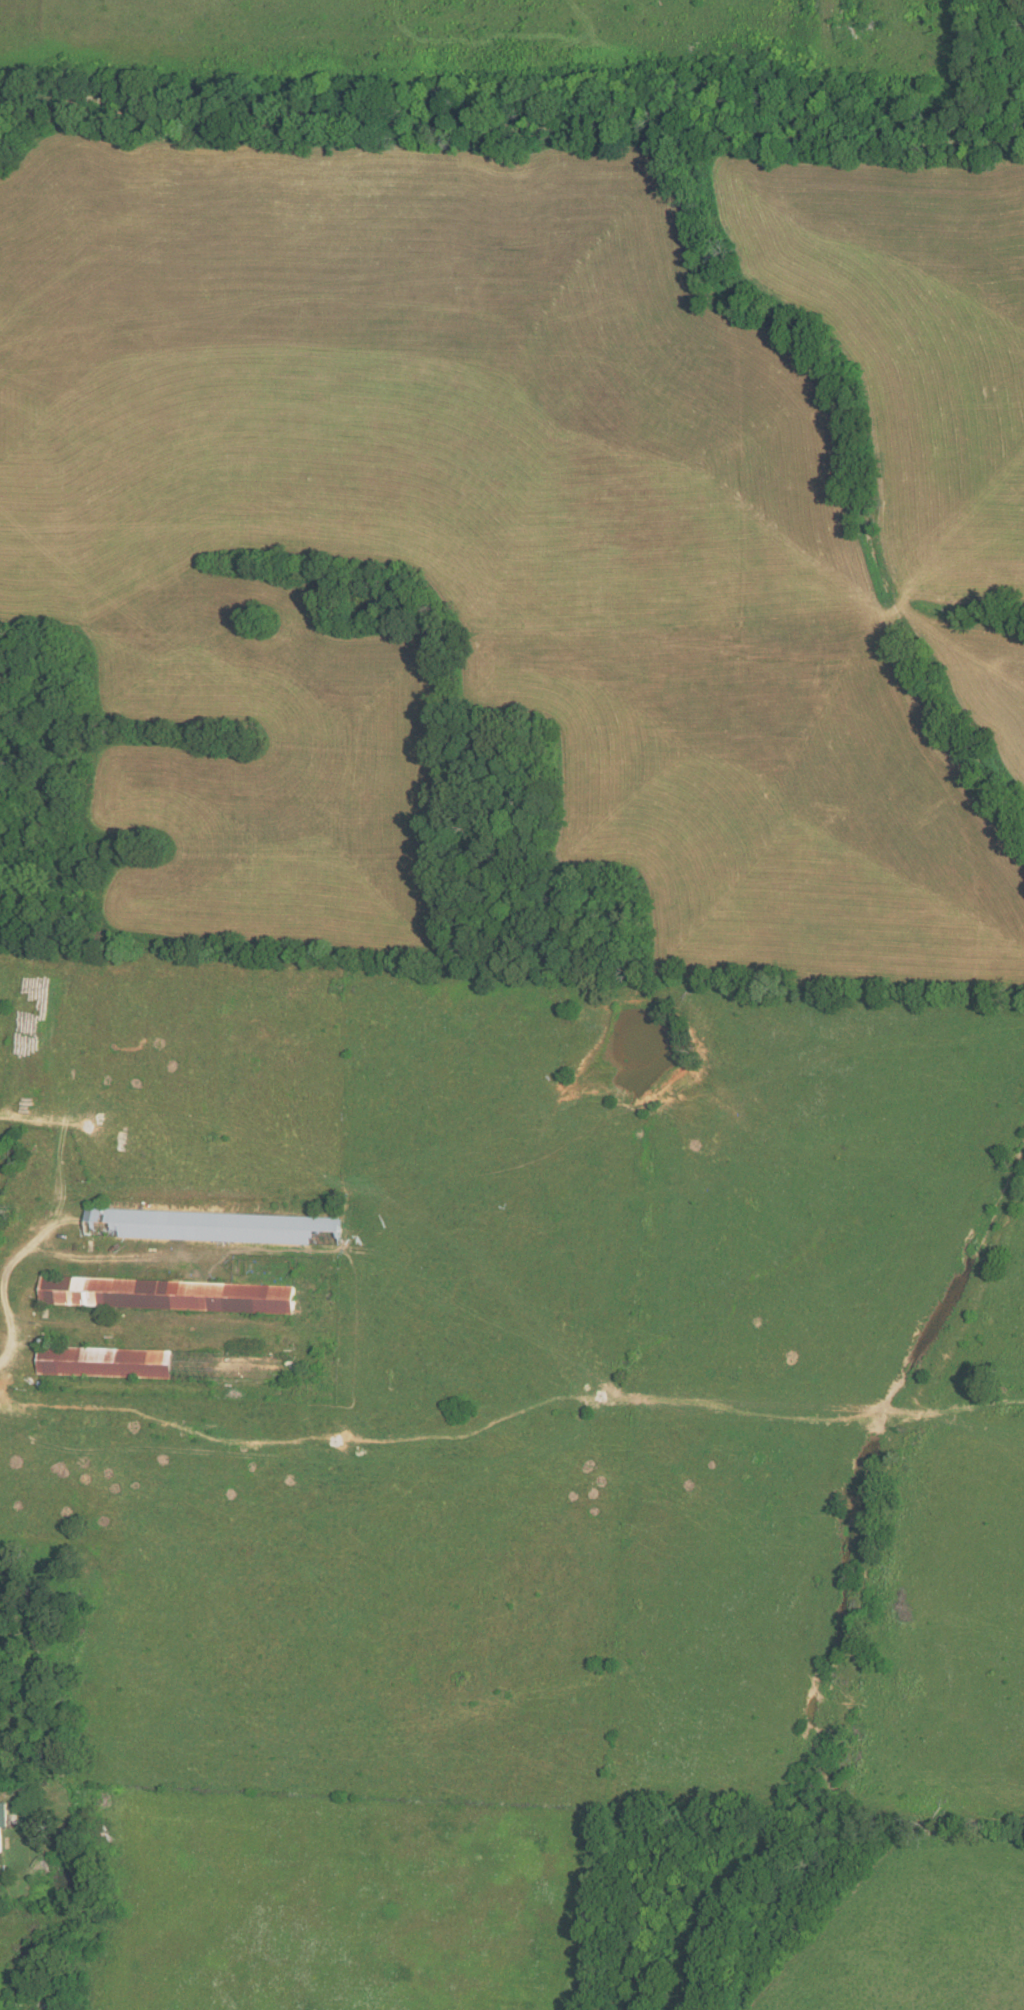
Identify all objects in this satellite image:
road: (422, 1199)
building: (217, 1224)
road: (123, 1249)
building: (171, 1293)
building: (108, 1360)
building: (6, 1819)

